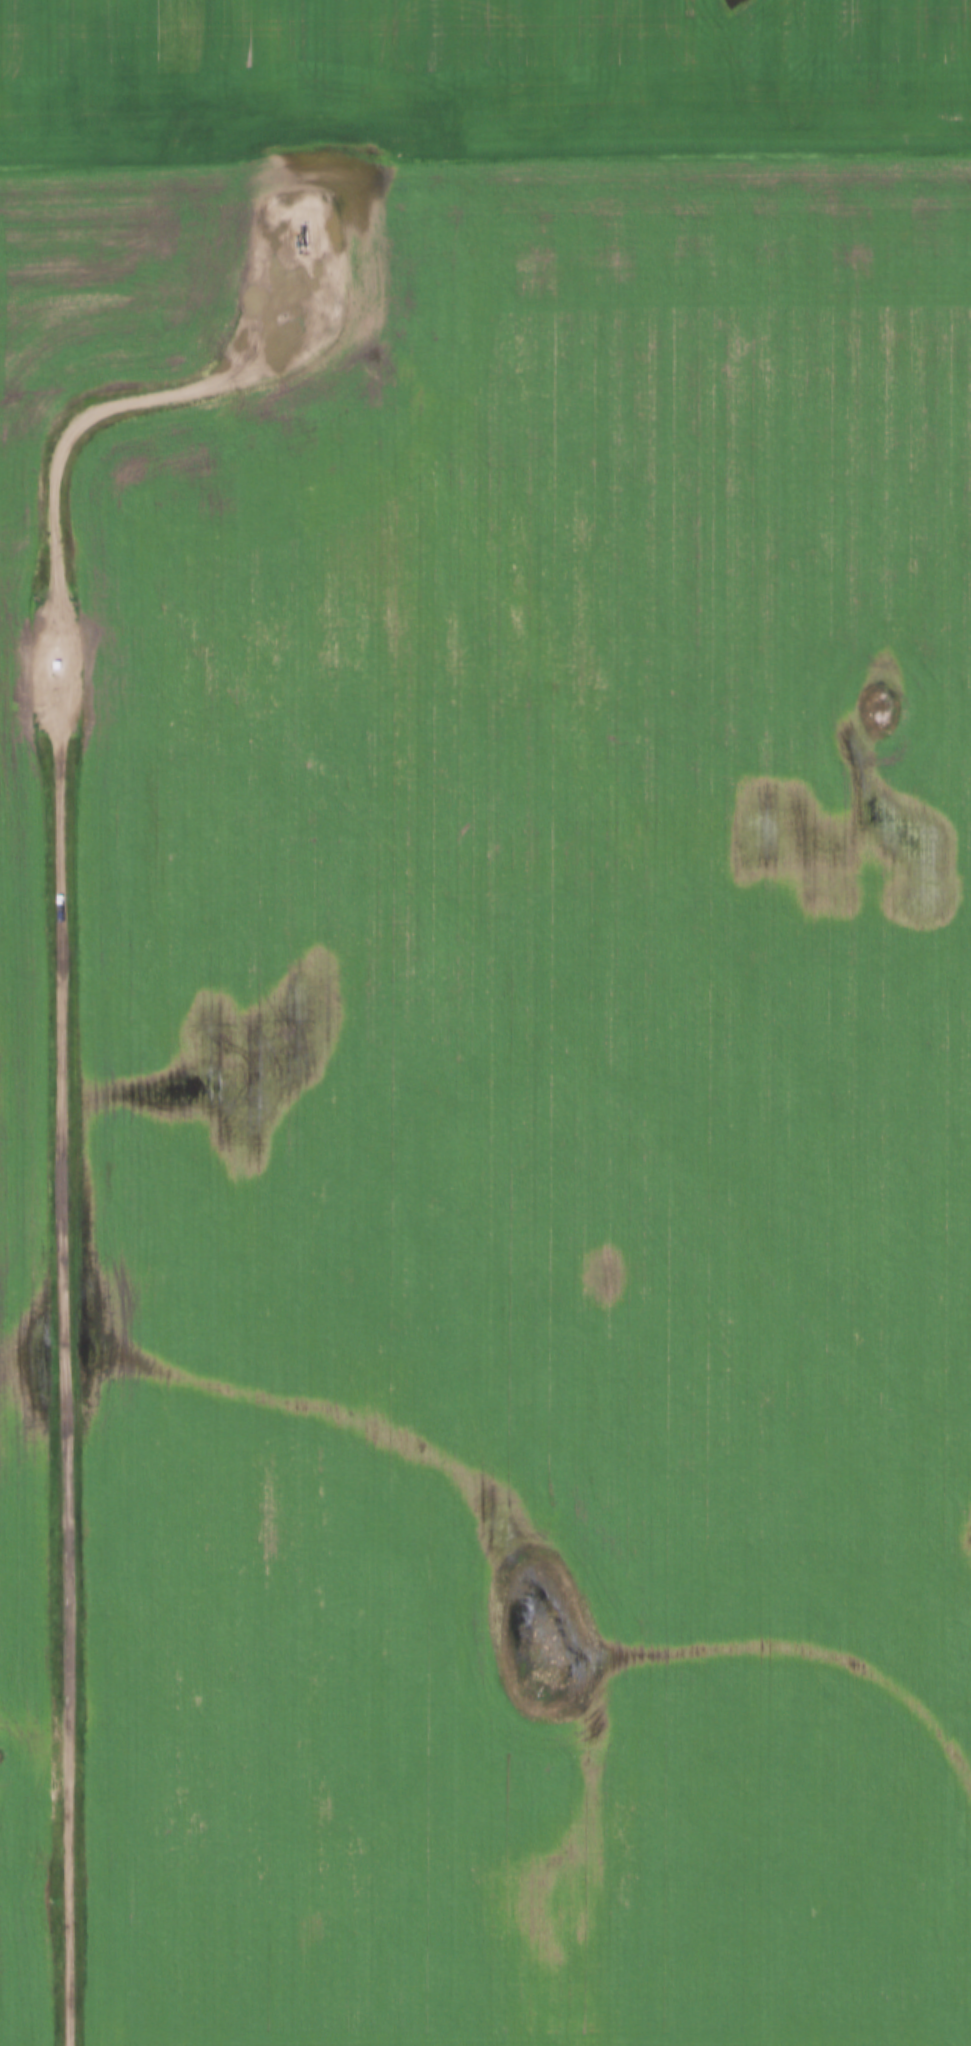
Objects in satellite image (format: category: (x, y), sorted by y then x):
road: (65, 1366)

